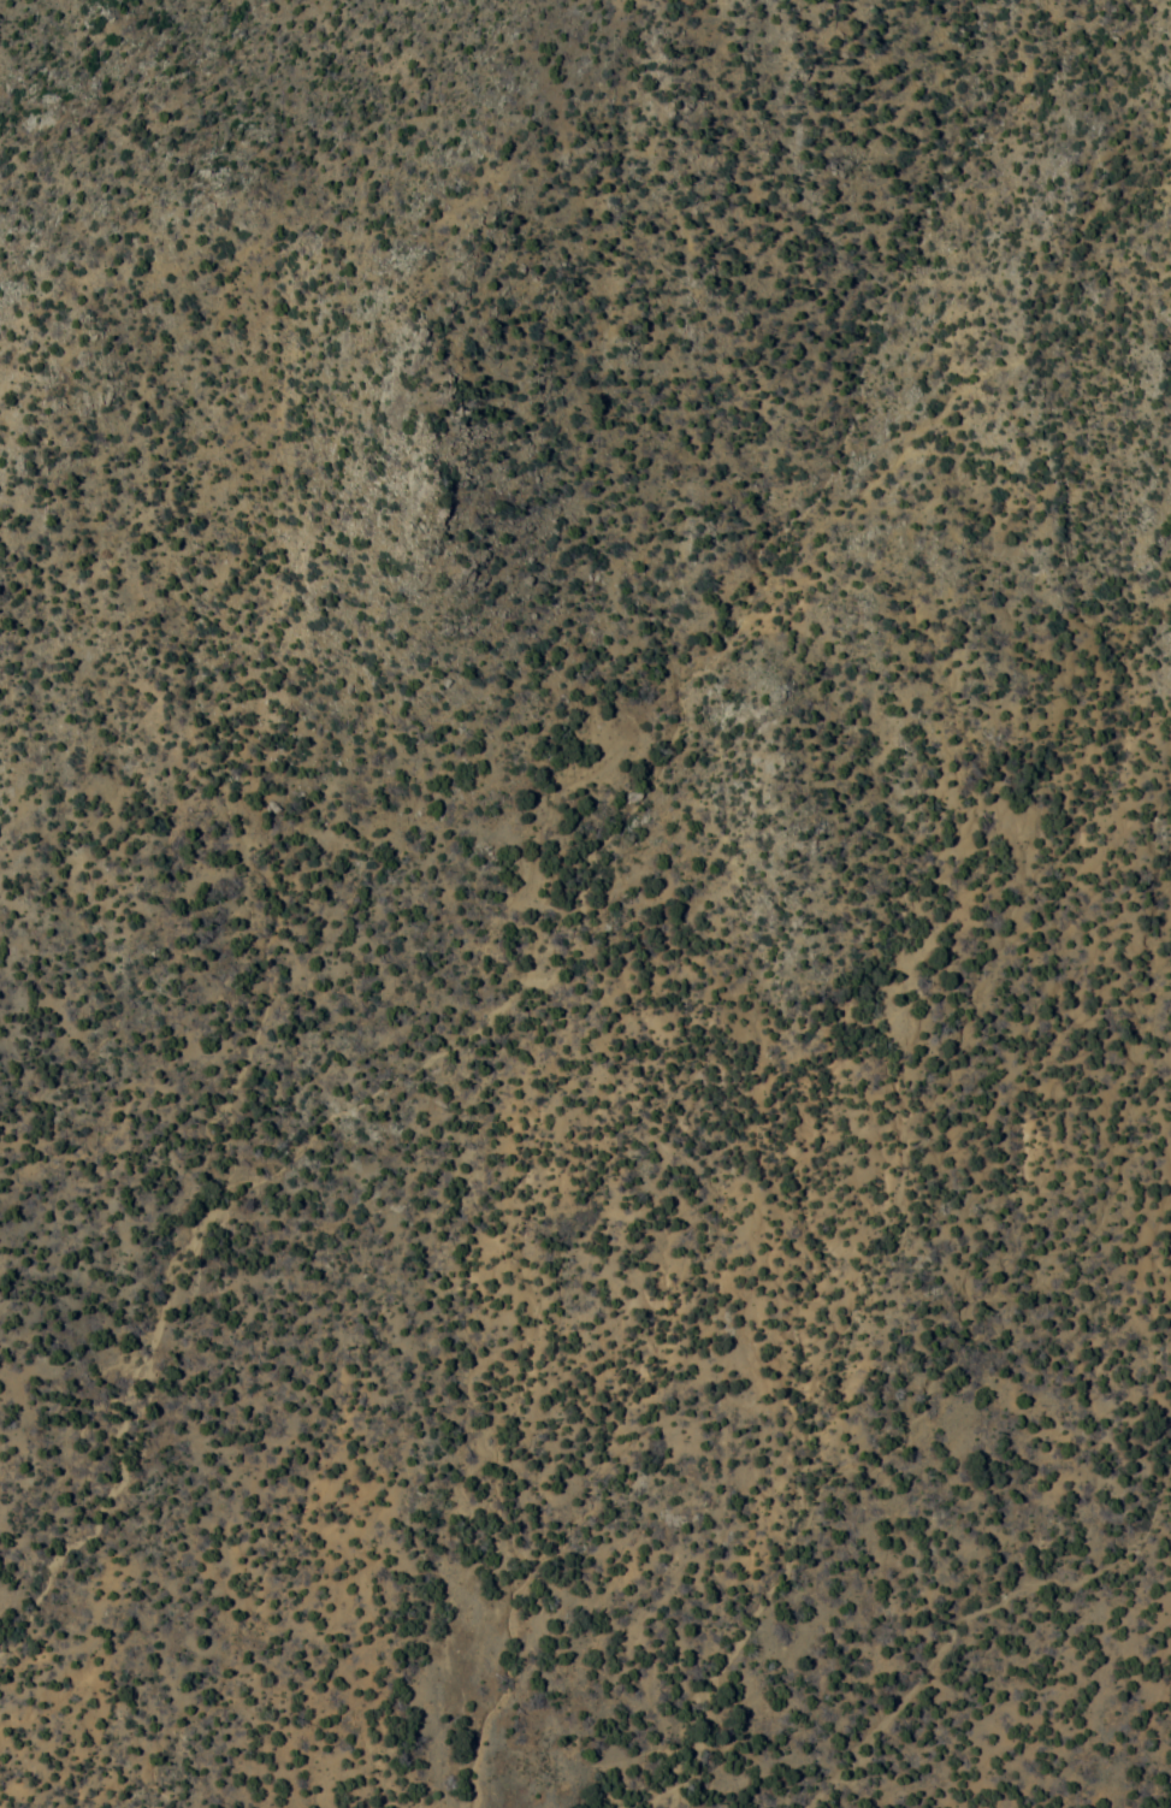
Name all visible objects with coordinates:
road: (72, 1189)

